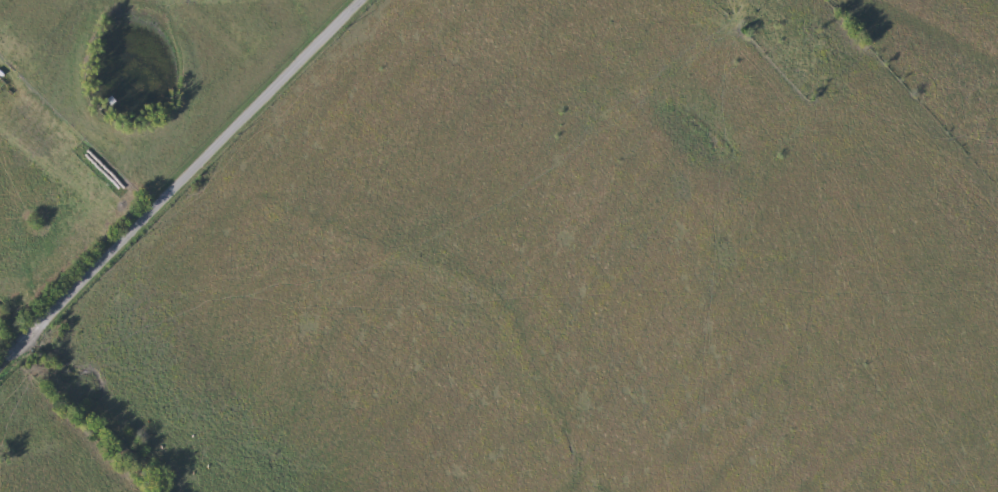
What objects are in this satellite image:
road: (260, 94)
road: (86, 278)

